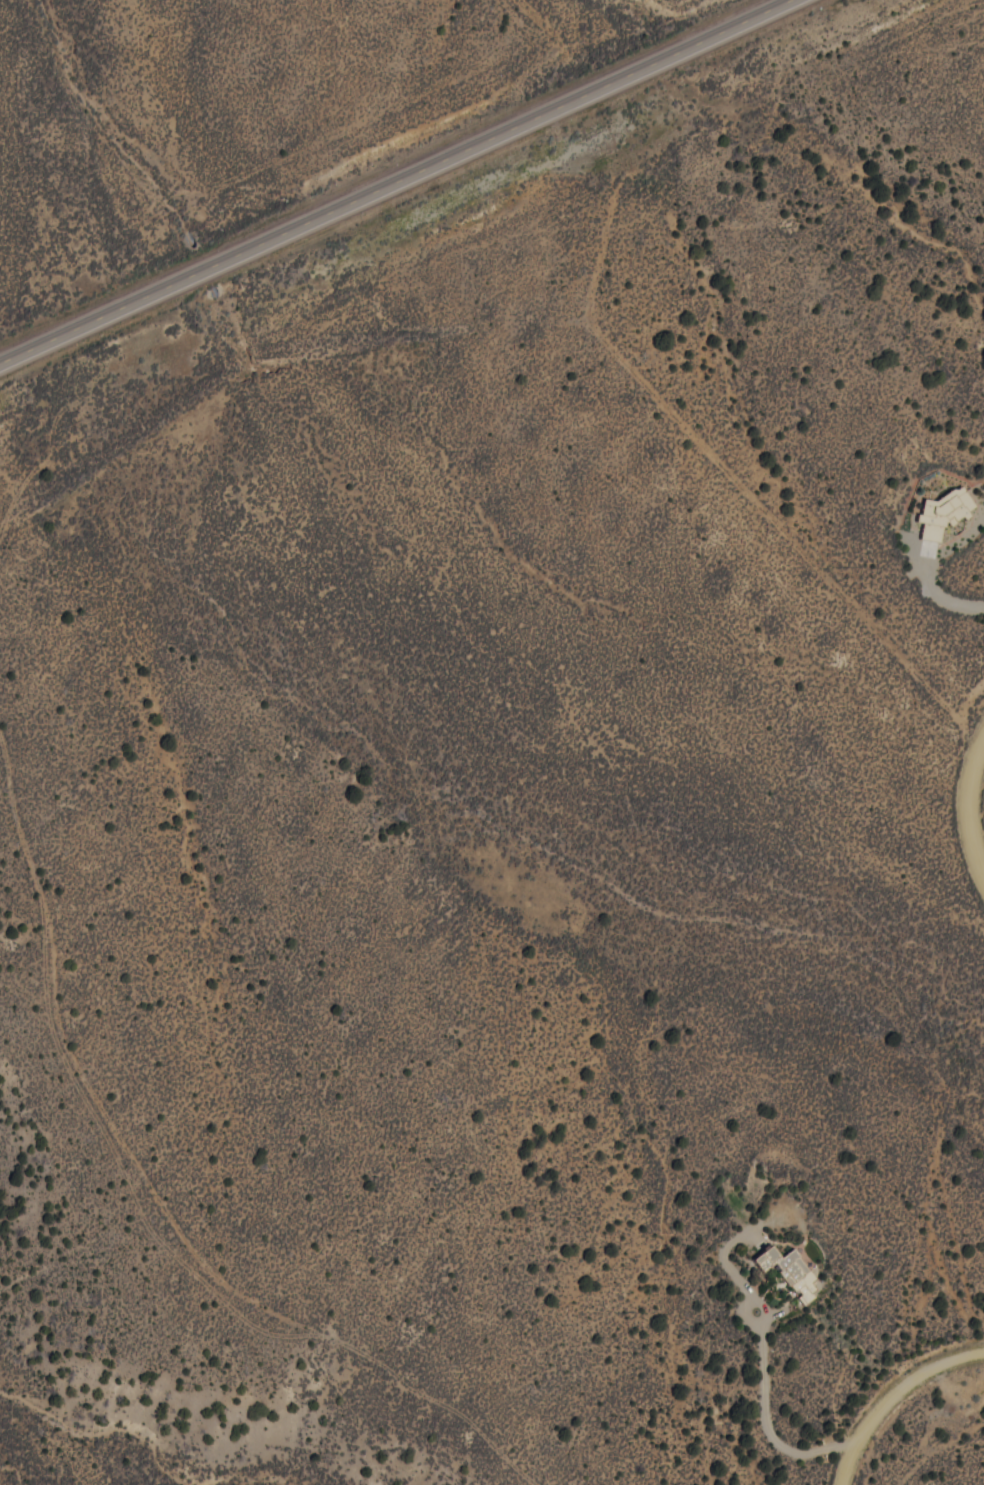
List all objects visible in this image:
road: (392, 179)
road: (965, 806)
building: (796, 1273)
road: (887, 1393)

